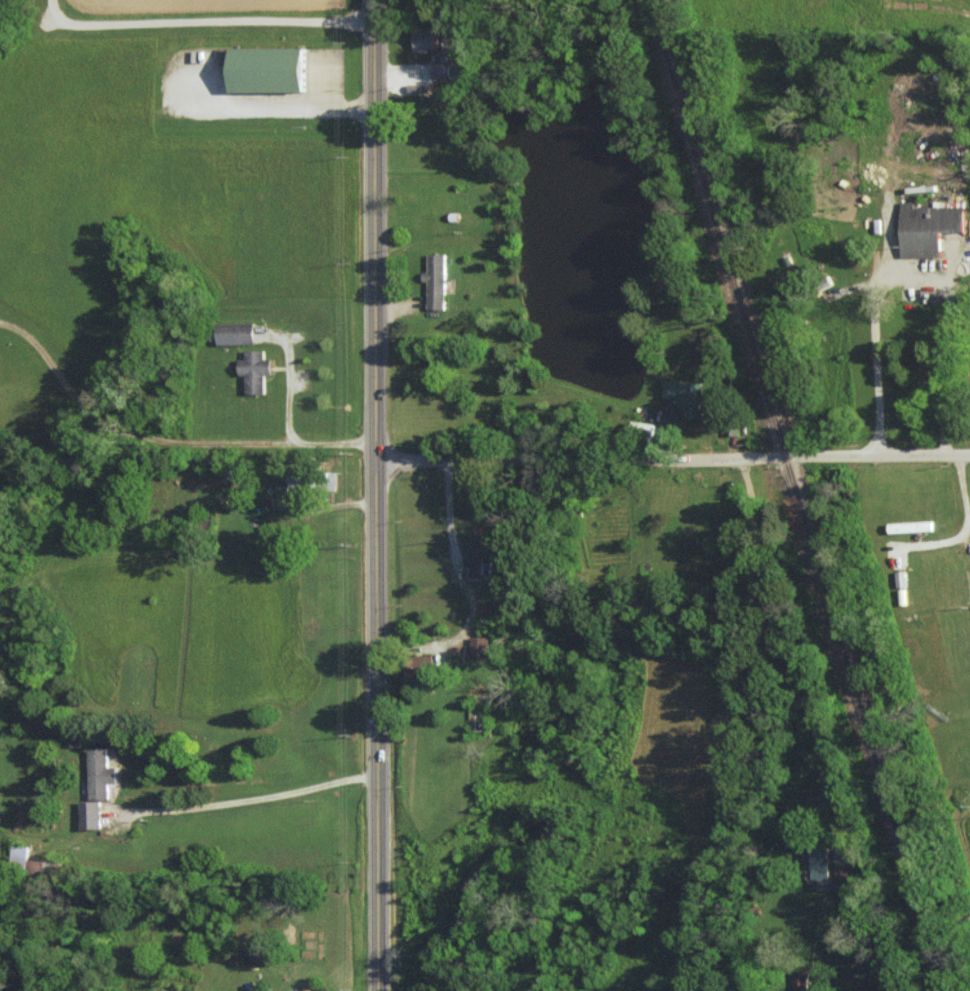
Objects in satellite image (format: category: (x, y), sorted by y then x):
road: (205, 21)
building: (424, 38)
building: (265, 68)
building: (440, 70)
road: (286, 106)
building: (926, 227)
building: (434, 281)
building: (234, 332)
road: (879, 356)
building: (253, 370)
road: (288, 388)
building: (685, 395)
road: (166, 437)
road: (674, 460)
building: (293, 484)
road: (378, 495)
railway: (799, 495)
building: (910, 526)
building: (477, 555)
road: (468, 589)
building: (481, 647)
building: (413, 669)
building: (98, 773)
road: (252, 796)
building: (89, 814)
building: (19, 855)
building: (816, 867)
building: (844, 875)
building: (800, 980)
building: (306, 990)

